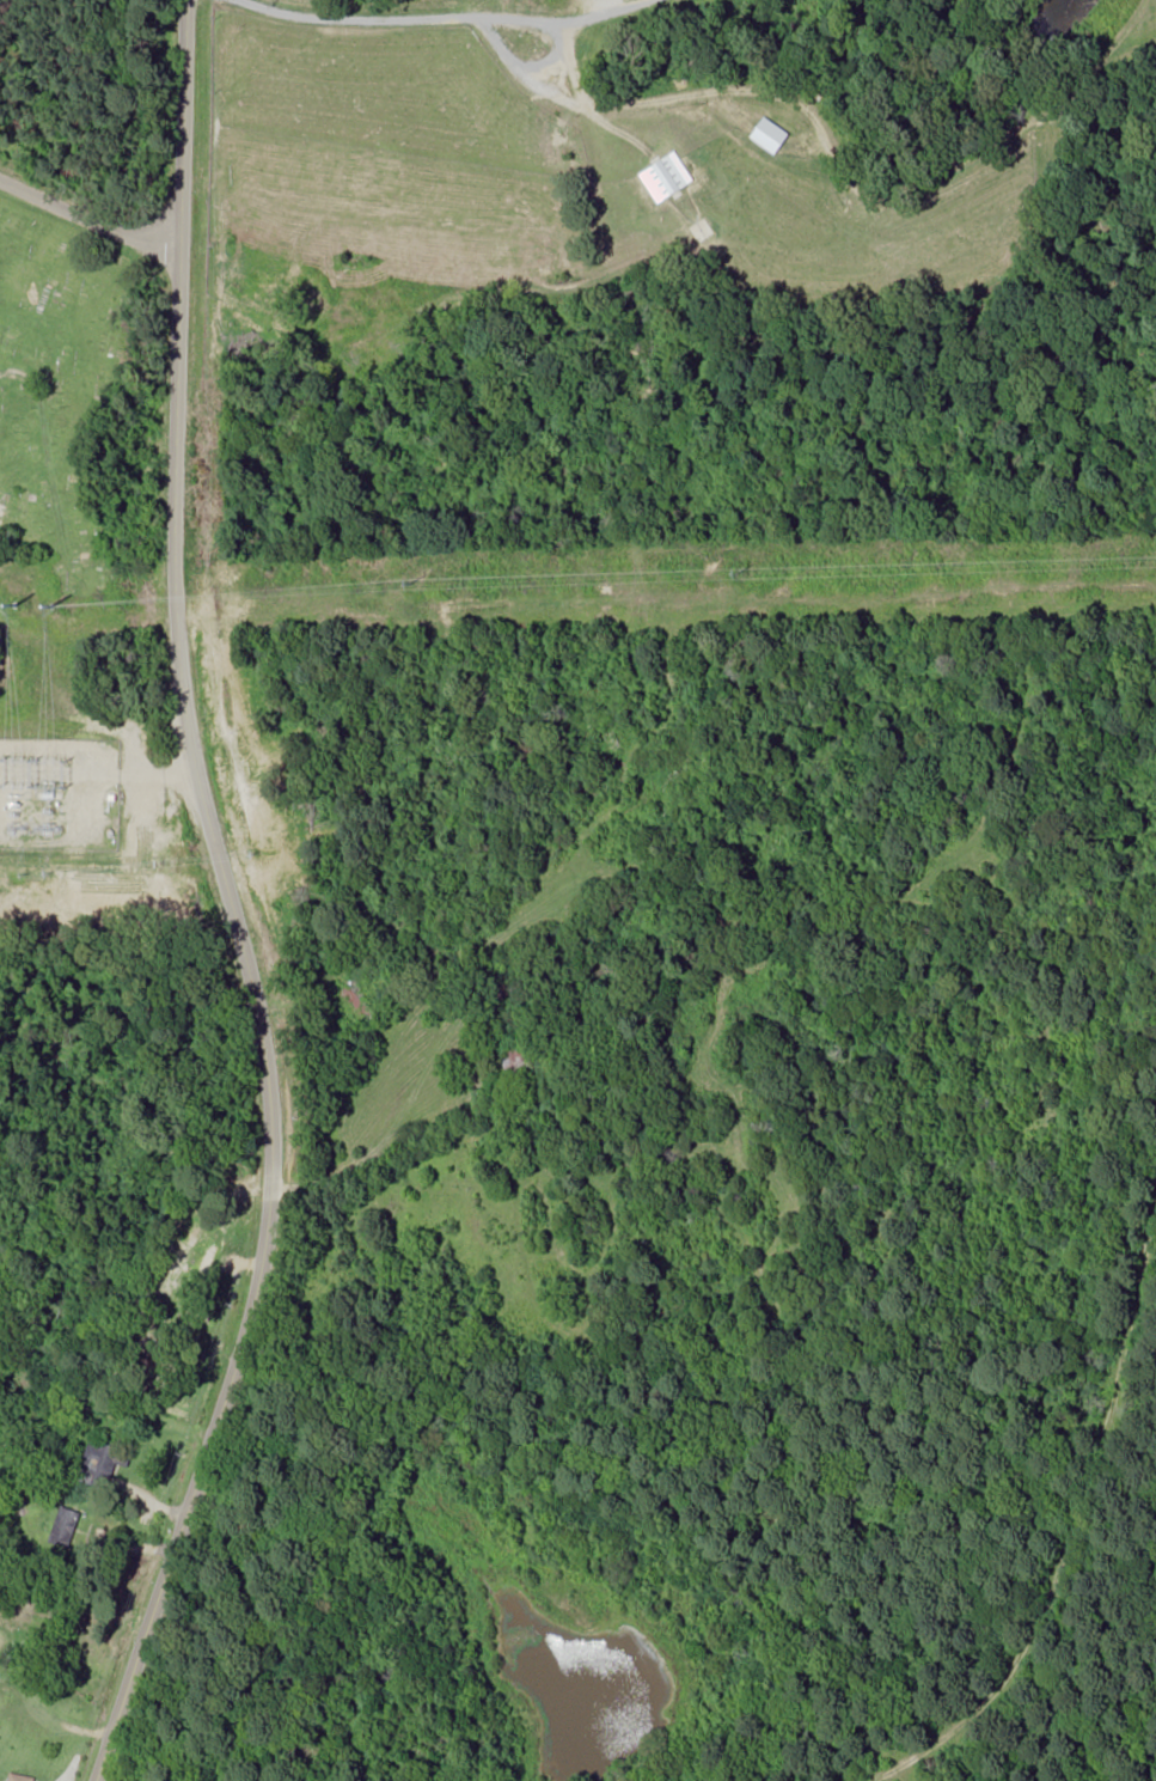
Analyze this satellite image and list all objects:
road: (87, 205)
park: (71, 392)
power substation: (59, 792)
road: (228, 903)
building: (509, 984)
building: (360, 1000)
building: (516, 1060)
building: (103, 1464)
building: (63, 1526)
road: (55, 1725)
building: (19, 1777)

